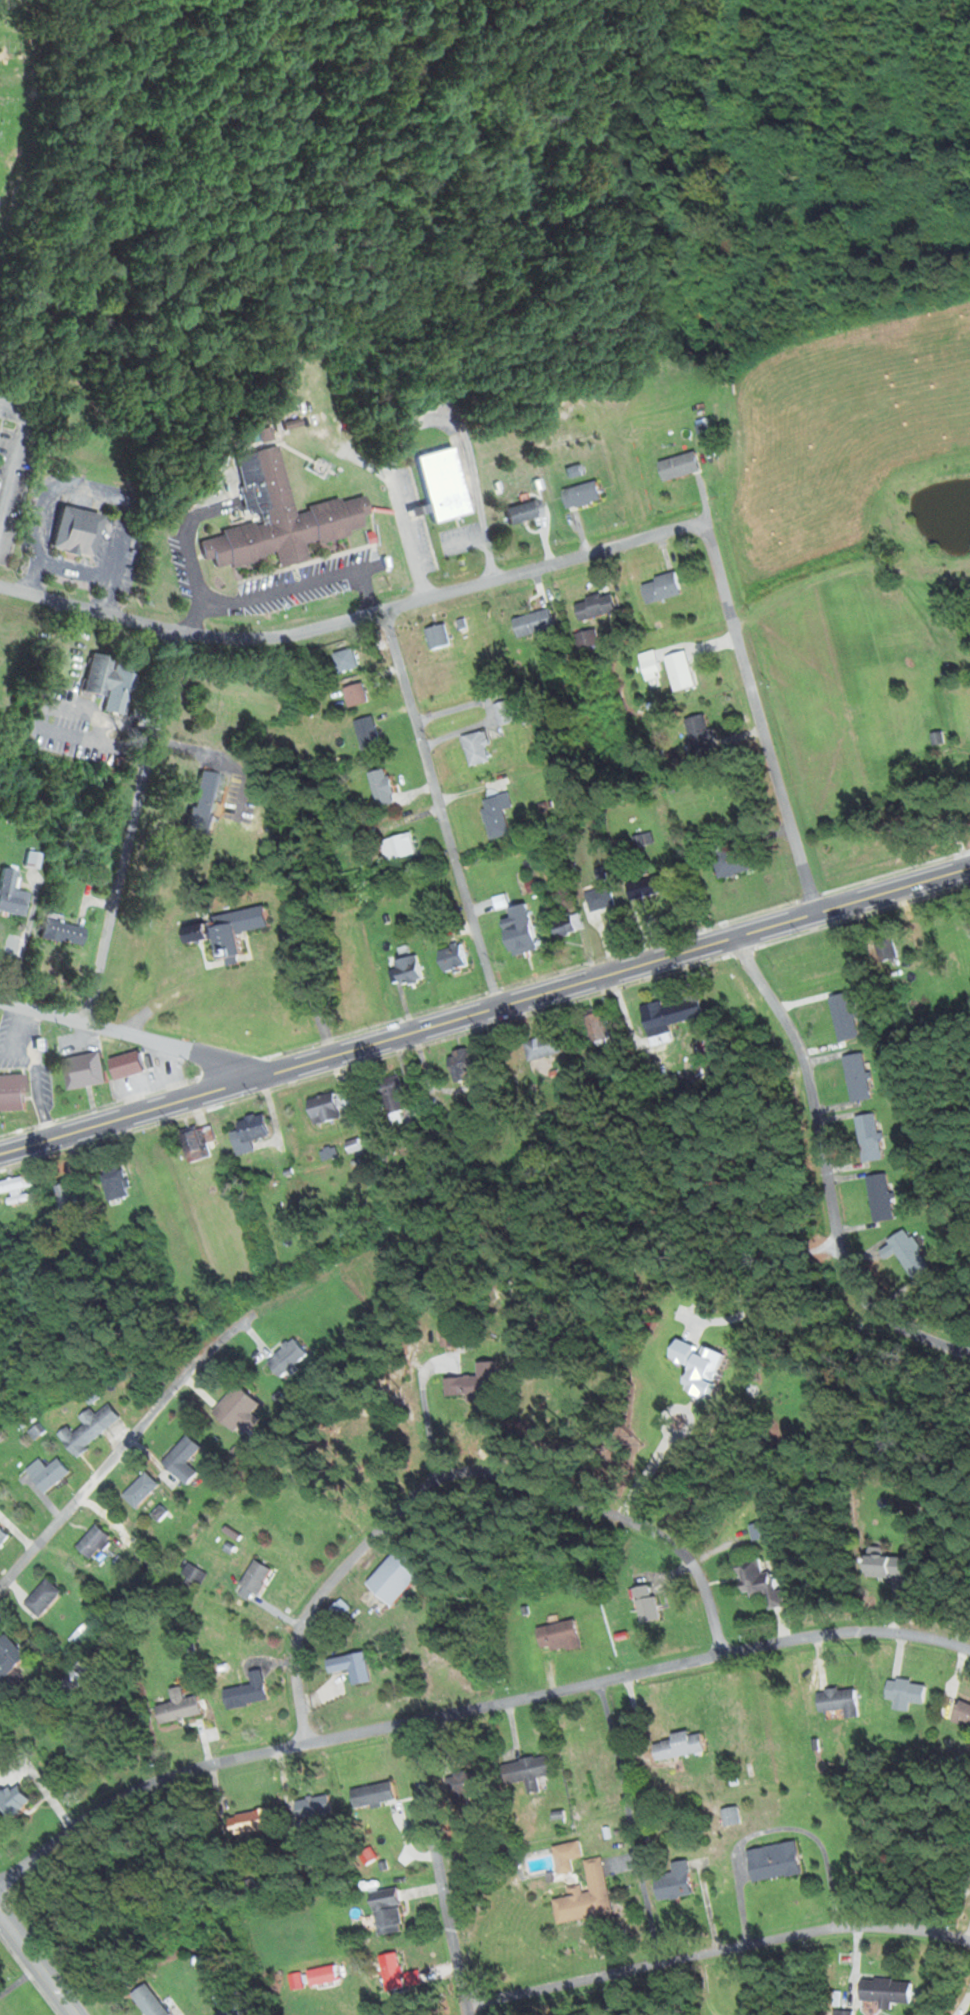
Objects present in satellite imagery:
park: (23, 102)
road: (421, 419)
building: (702, 431)
building: (261, 435)
road: (18, 454)
building: (677, 466)
building: (439, 484)
road: (95, 488)
building: (580, 495)
building: (520, 513)
building: (274, 518)
building: (73, 531)
road: (834, 576)
building: (660, 588)
building: (594, 606)
road: (351, 620)
building: (533, 623)
building: (438, 636)
building: (587, 639)
building: (344, 660)
building: (649, 664)
building: (679, 670)
building: (115, 689)
building: (355, 694)
road: (492, 708)
building: (505, 712)
road: (760, 715)
building: (367, 733)
building: (699, 733)
building: (477, 748)
building: (381, 787)
building: (202, 801)
road: (442, 807)
building: (496, 815)
road: (407, 819)
road: (131, 825)
building: (643, 839)
building: (398, 846)
building: (730, 861)
building: (644, 886)
building: (10, 893)
building: (599, 897)
building: (565, 924)
building: (232, 928)
building: (517, 929)
building: (56, 931)
building: (192, 931)
building: (884, 946)
building: (451, 956)
building: (408, 968)
road: (484, 1008)
building: (844, 1016)
building: (666, 1017)
building: (595, 1024)
road: (133, 1034)
building: (542, 1046)
building: (460, 1058)
building: (124, 1064)
building: (82, 1069)
building: (857, 1076)
building: (11, 1092)
building: (390, 1094)
building: (328, 1106)
road: (837, 1108)
road: (839, 1116)
building: (247, 1132)
building: (867, 1136)
building: (195, 1142)
road: (847, 1167)
road: (827, 1169)
building: (114, 1182)
building: (13, 1190)
building: (65, 1193)
building: (878, 1196)
building: (906, 1253)
building: (446, 1334)
building: (286, 1359)
building: (474, 1383)
road: (425, 1408)
building: (236, 1410)
building: (88, 1428)
road: (125, 1444)
building: (182, 1460)
building: (47, 1473)
road: (464, 1475)
building: (140, 1490)
building: (760, 1530)
building: (2, 1536)
building: (92, 1542)
building: (883, 1565)
building: (193, 1575)
building: (394, 1575)
building: (254, 1576)
building: (760, 1582)
building: (41, 1597)
building: (646, 1603)
building: (337, 1609)
building: (558, 1636)
building: (7, 1657)
building: (350, 1666)
building: (75, 1676)
building: (905, 1690)
building: (245, 1691)
building: (838, 1701)
building: (176, 1707)
road: (470, 1710)
building: (961, 1713)
building: (670, 1744)
building: (528, 1771)
building: (467, 1784)
building: (372, 1795)
building: (12, 1800)
building: (312, 1807)
building: (245, 1822)
road: (630, 1822)
building: (771, 1861)
road: (442, 1868)
building: (672, 1882)
building: (585, 1896)
building: (386, 1911)
road: (717, 1950)
road: (37, 1964)
building: (390, 1971)
building: (885, 1991)
building: (147, 2001)
building: (391, 2014)
building: (968, 2014)

